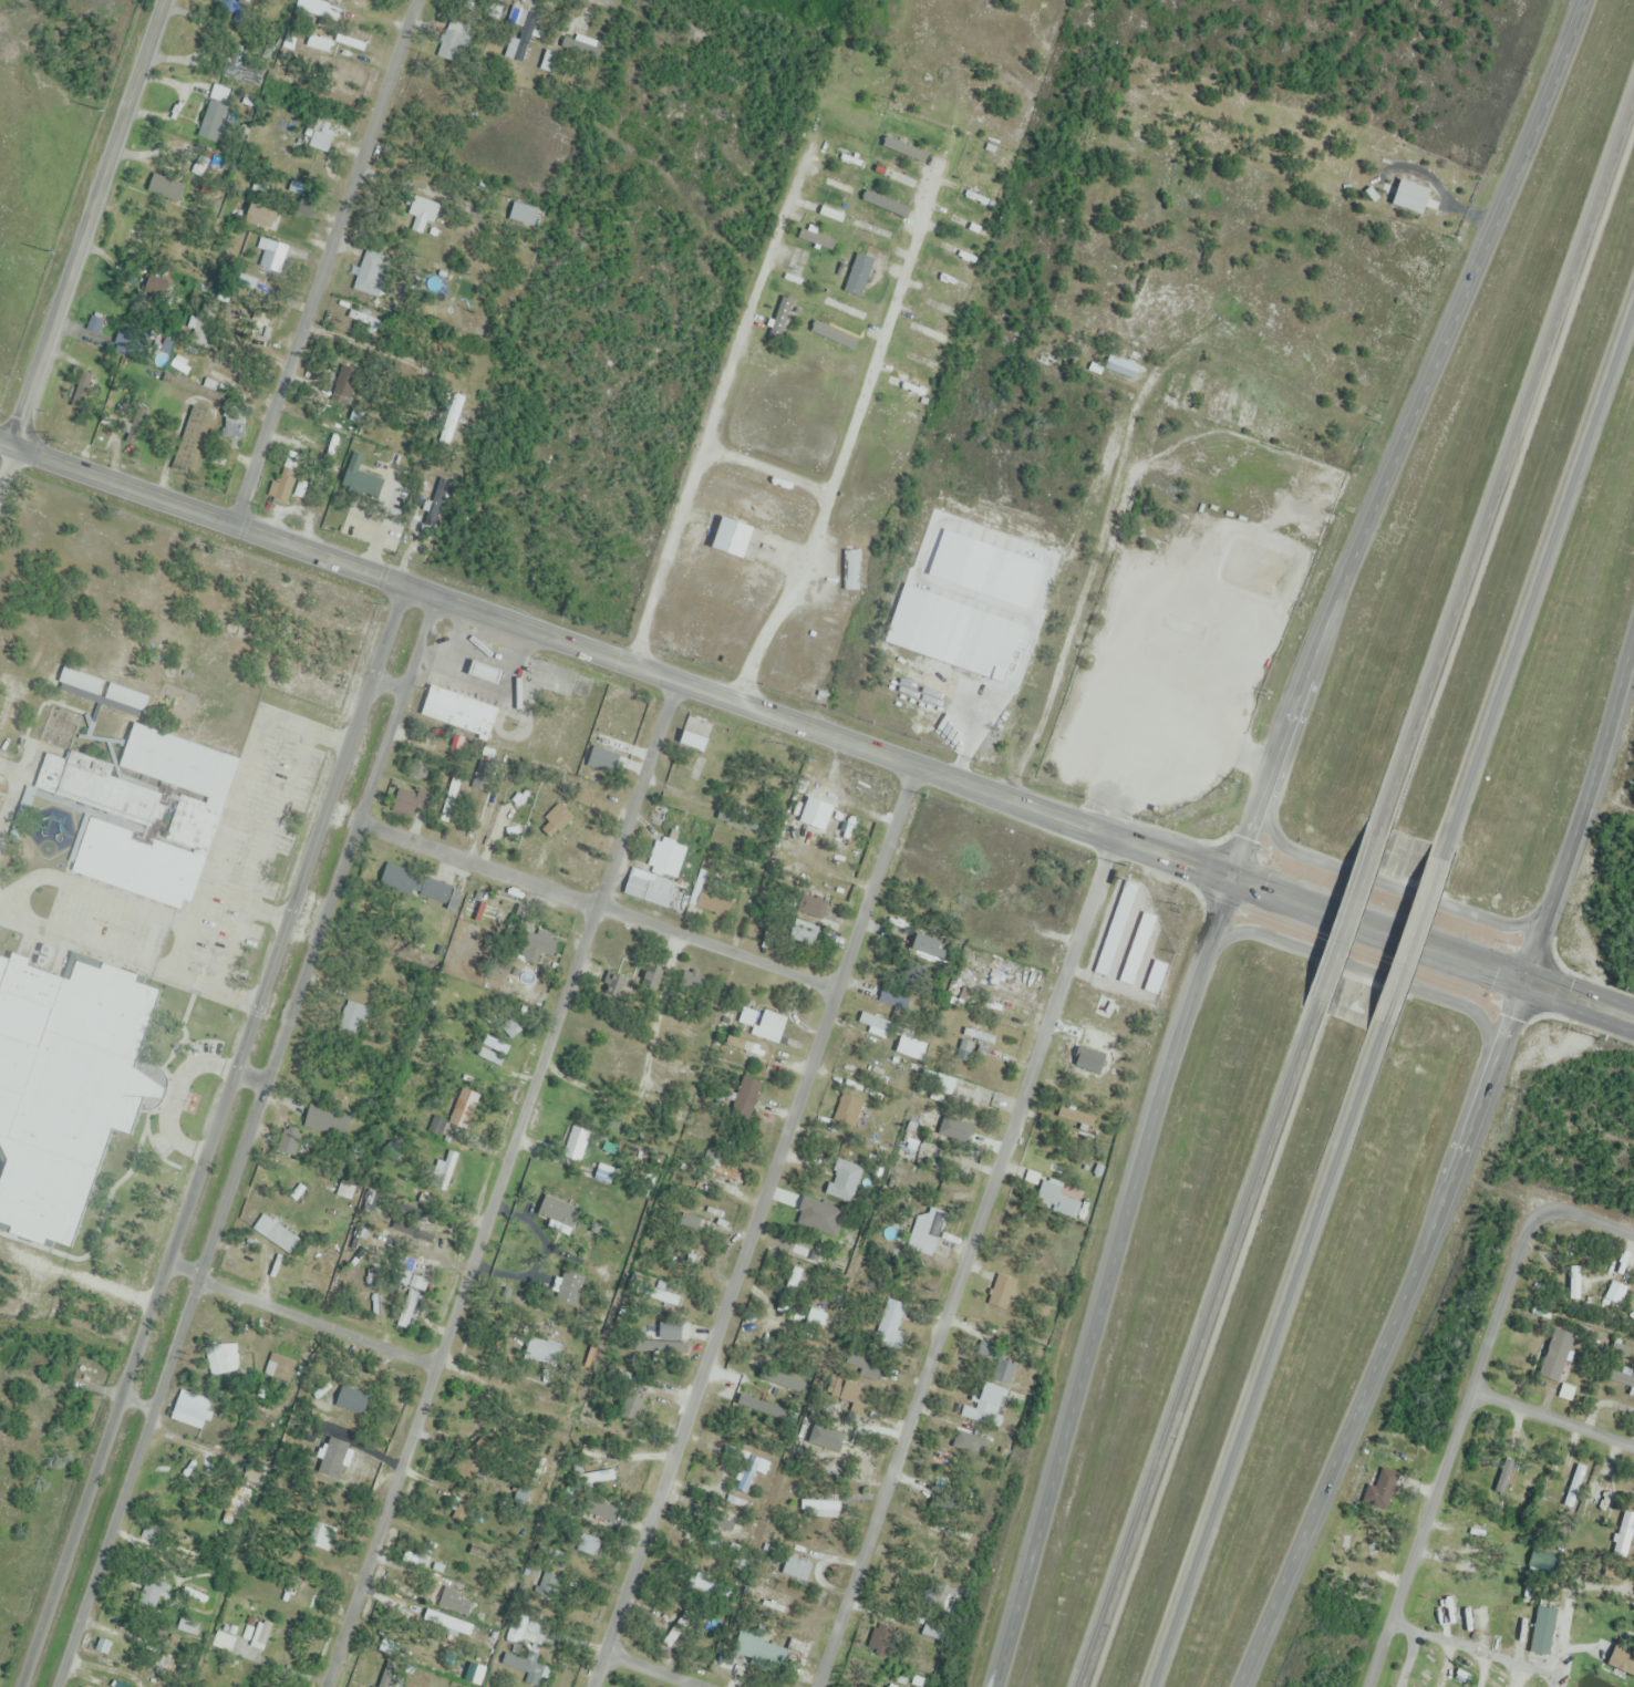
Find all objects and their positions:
road: (610, 0)
building: (316, 8)
building: (514, 15)
building: (453, 41)
building: (583, 49)
building: (515, 50)
building: (244, 71)
building: (215, 114)
building: (158, 185)
building: (1410, 197)
building: (306, 203)
building: (423, 214)
building: (524, 214)
road: (89, 217)
building: (259, 217)
building: (815, 239)
building: (177, 248)
road: (322, 256)
building: (271, 259)
building: (371, 271)
building: (857, 275)
building: (157, 283)
building: (846, 310)
building: (783, 318)
building: (366, 320)
building: (265, 322)
building: (1121, 368)
building: (908, 386)
road: (714, 399)
building: (340, 401)
building: (234, 424)
road: (845, 429)
road: (1410, 429)
building: (188, 439)
road: (6, 462)
road: (1510, 464)
road: (761, 470)
building: (358, 477)
building: (282, 486)
building: (1093, 505)
building: (730, 538)
building: (851, 571)
road: (1538, 575)
road: (1074, 599)
road: (618, 650)
road: (614, 662)
building: (18, 686)
road: (361, 690)
building: (102, 695)
building: (457, 713)
building: (1160, 721)
building: (68, 732)
building: (695, 734)
gas station: (1175, 752)
building: (405, 804)
road: (1582, 811)
building: (818, 817)
building: (559, 821)
building: (844, 830)
building: (135, 836)
road: (214, 844)
road: (259, 857)
building: (659, 878)
building: (421, 888)
building: (48, 889)
road: (90, 889)
building: (711, 897)
road: (580, 900)
building: (809, 908)
building: (484, 911)
road: (263, 912)
road: (1383, 913)
road: (1349, 918)
road: (301, 925)
building: (75, 933)
road: (1375, 933)
building: (800, 934)
road: (86, 942)
road: (1409, 942)
building: (532, 946)
building: (924, 946)
building: (1137, 949)
building: (974, 966)
building: (1010, 977)
building: (1156, 977)
building: (692, 982)
road: (1581, 983)
building: (894, 997)
road: (1576, 1005)
building: (997, 1006)
building: (1106, 1008)
road: (272, 1010)
building: (352, 1020)
building: (763, 1025)
building: (875, 1025)
building: (748, 1049)
building: (909, 1052)
building: (1093, 1052)
building: (604, 1059)
building: (956, 1089)
building: (734, 1107)
building: (848, 1110)
building: (1075, 1117)
building: (949, 1126)
building: (443, 1129)
road: (246, 1136)
building: (576, 1143)
building: (721, 1171)
building: (442, 1173)
road: (503, 1179)
building: (345, 1191)
building: (1066, 1208)
road: (758, 1220)
building: (686, 1224)
building: (928, 1230)
building: (413, 1231)
building: (276, 1234)
road: (175, 1248)
road: (964, 1252)
building: (841, 1262)
road: (1103, 1271)
building: (790, 1290)
building: (1002, 1294)
building: (1615, 1296)
building: (663, 1297)
building: (408, 1310)
building: (817, 1319)
road: (318, 1321)
building: (889, 1323)
road: (1392, 1328)
road: (1199, 1348)
building: (663, 1350)
building: (540, 1352)
building: (1557, 1356)
building: (217, 1358)
road: (1264, 1362)
building: (280, 1367)
building: (868, 1368)
building: (1622, 1380)
building: (780, 1383)
building: (849, 1393)
building: (990, 1397)
building: (351, 1399)
road: (1465, 1401)
building: (751, 1407)
building: (189, 1410)
road: (1551, 1420)
building: (823, 1439)
building: (966, 1442)
building: (343, 1461)
building: (752, 1473)
building: (588, 1480)
building: (1575, 1487)
building: (1382, 1490)
building: (1594, 1493)
building: (237, 1505)
building: (819, 1507)
building: (600, 1510)
building: (716, 1521)
building: (323, 1538)
building: (1625, 1538)
building: (587, 1545)
building: (711, 1548)
building: (796, 1569)
building: (152, 1594)
building: (304, 1594)
building: (772, 1603)
building: (457, 1604)
building: (447, 1626)
building: (1542, 1631)
building: (527, 1633)
building: (261, 1634)
building: (286, 1646)
building: (763, 1653)
building: (1622, 1662)
building: (523, 1664)
building: (169, 1666)
road: (654, 1670)
building: (385, 1680)
building: (875, 1685)

